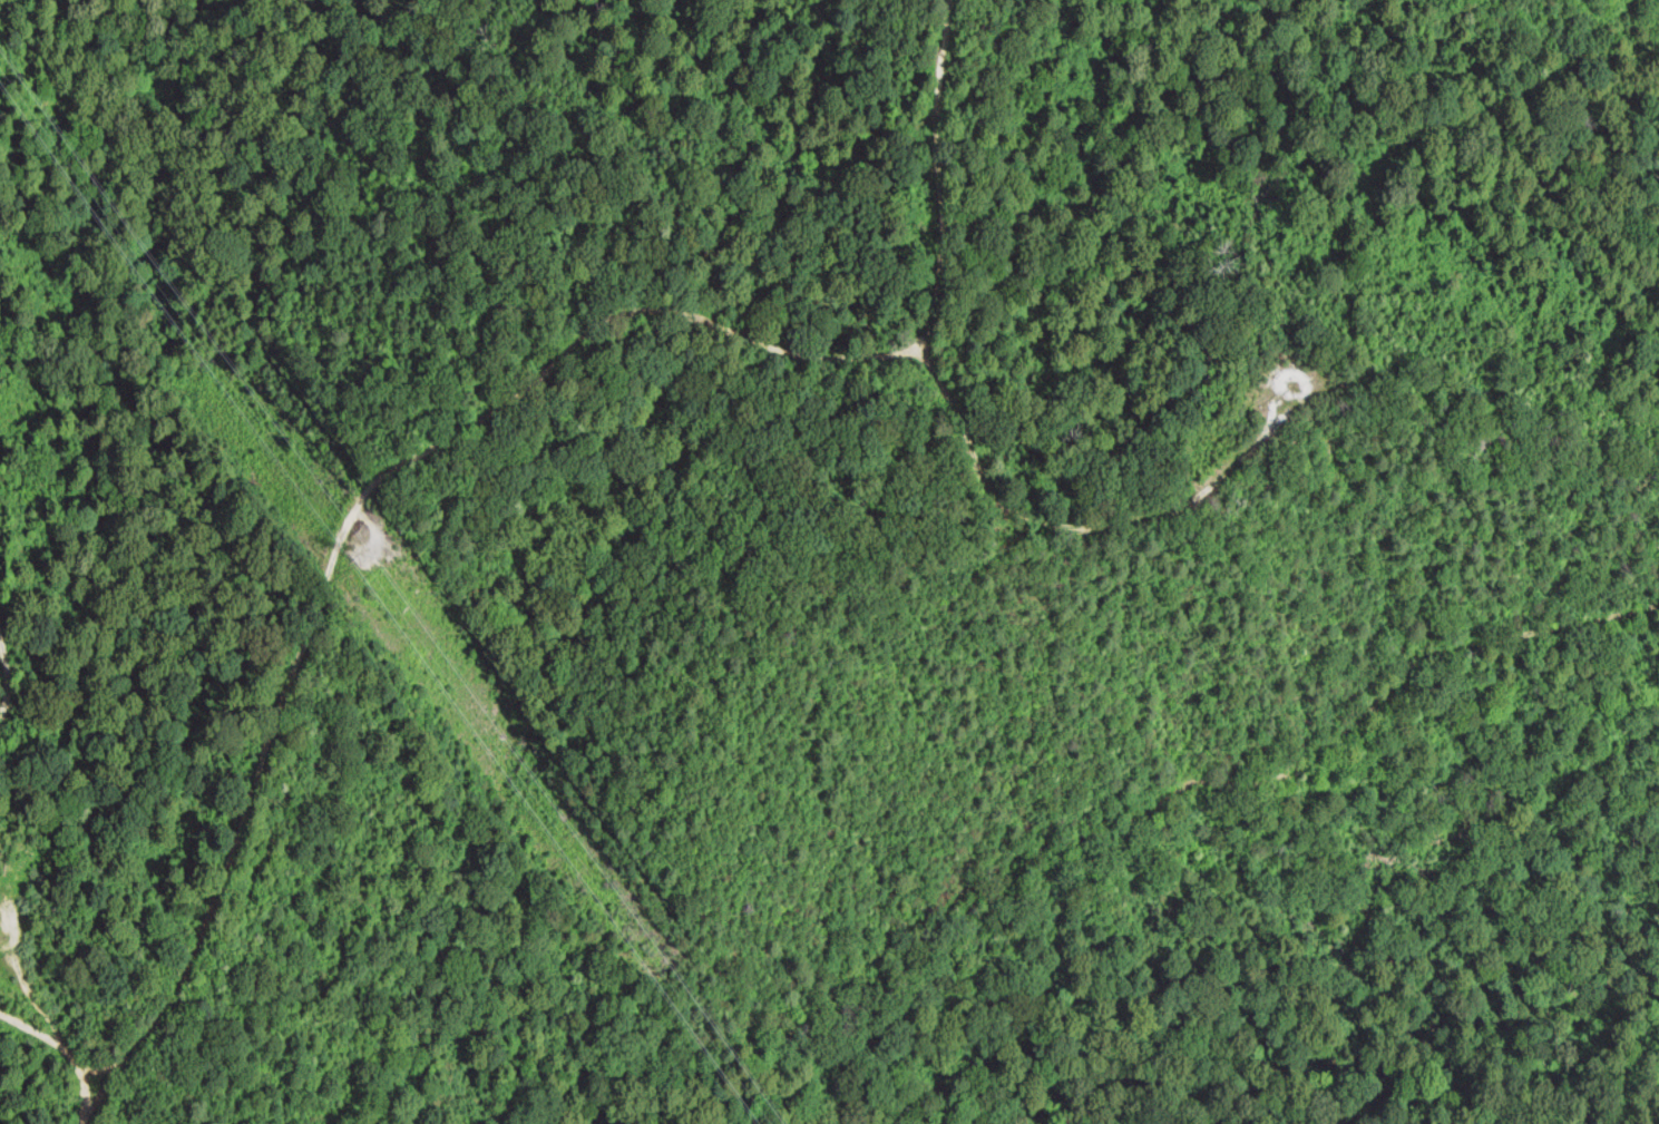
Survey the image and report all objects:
road: (944, 441)
road: (333, 545)
road: (0, 705)
road: (43, 1043)

